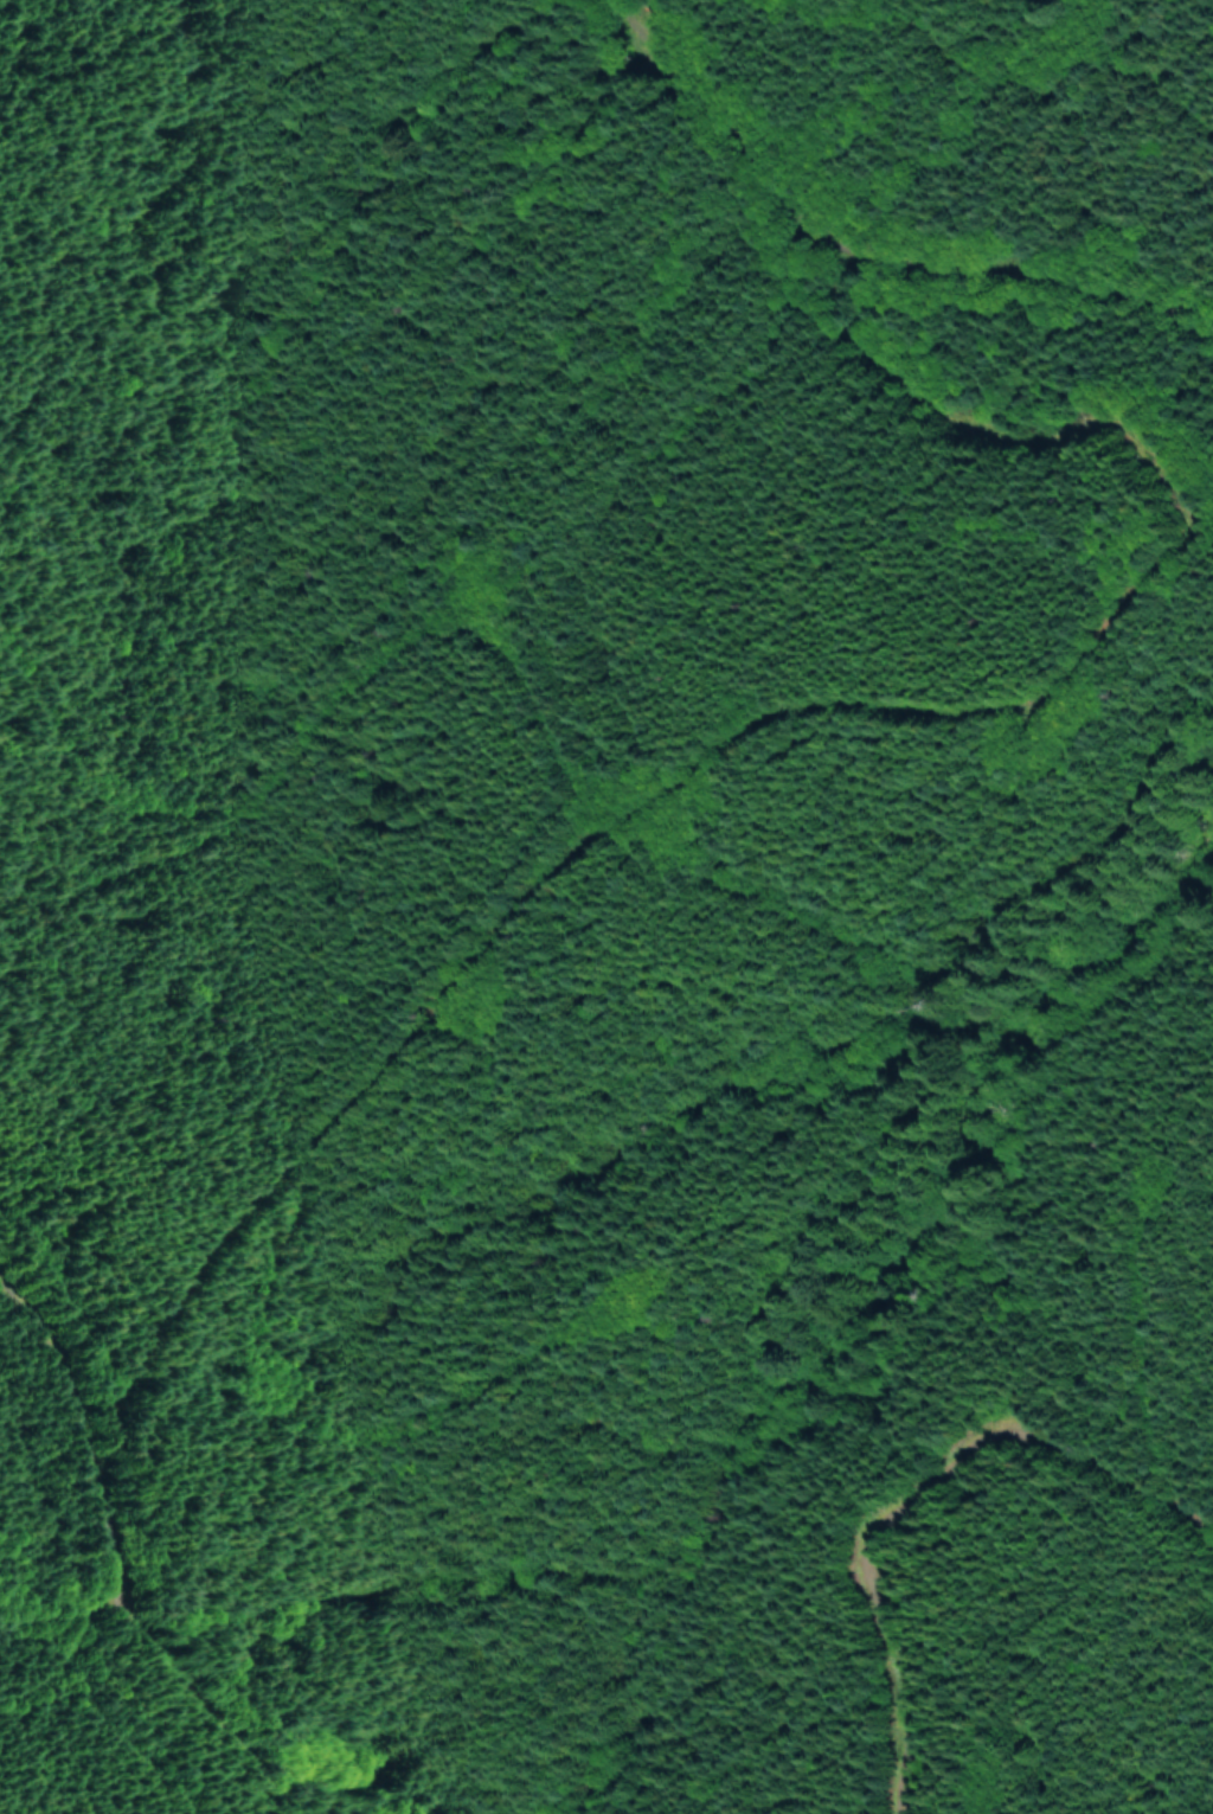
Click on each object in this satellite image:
road: (913, 245)
road: (968, 1499)
road: (92, 1621)

